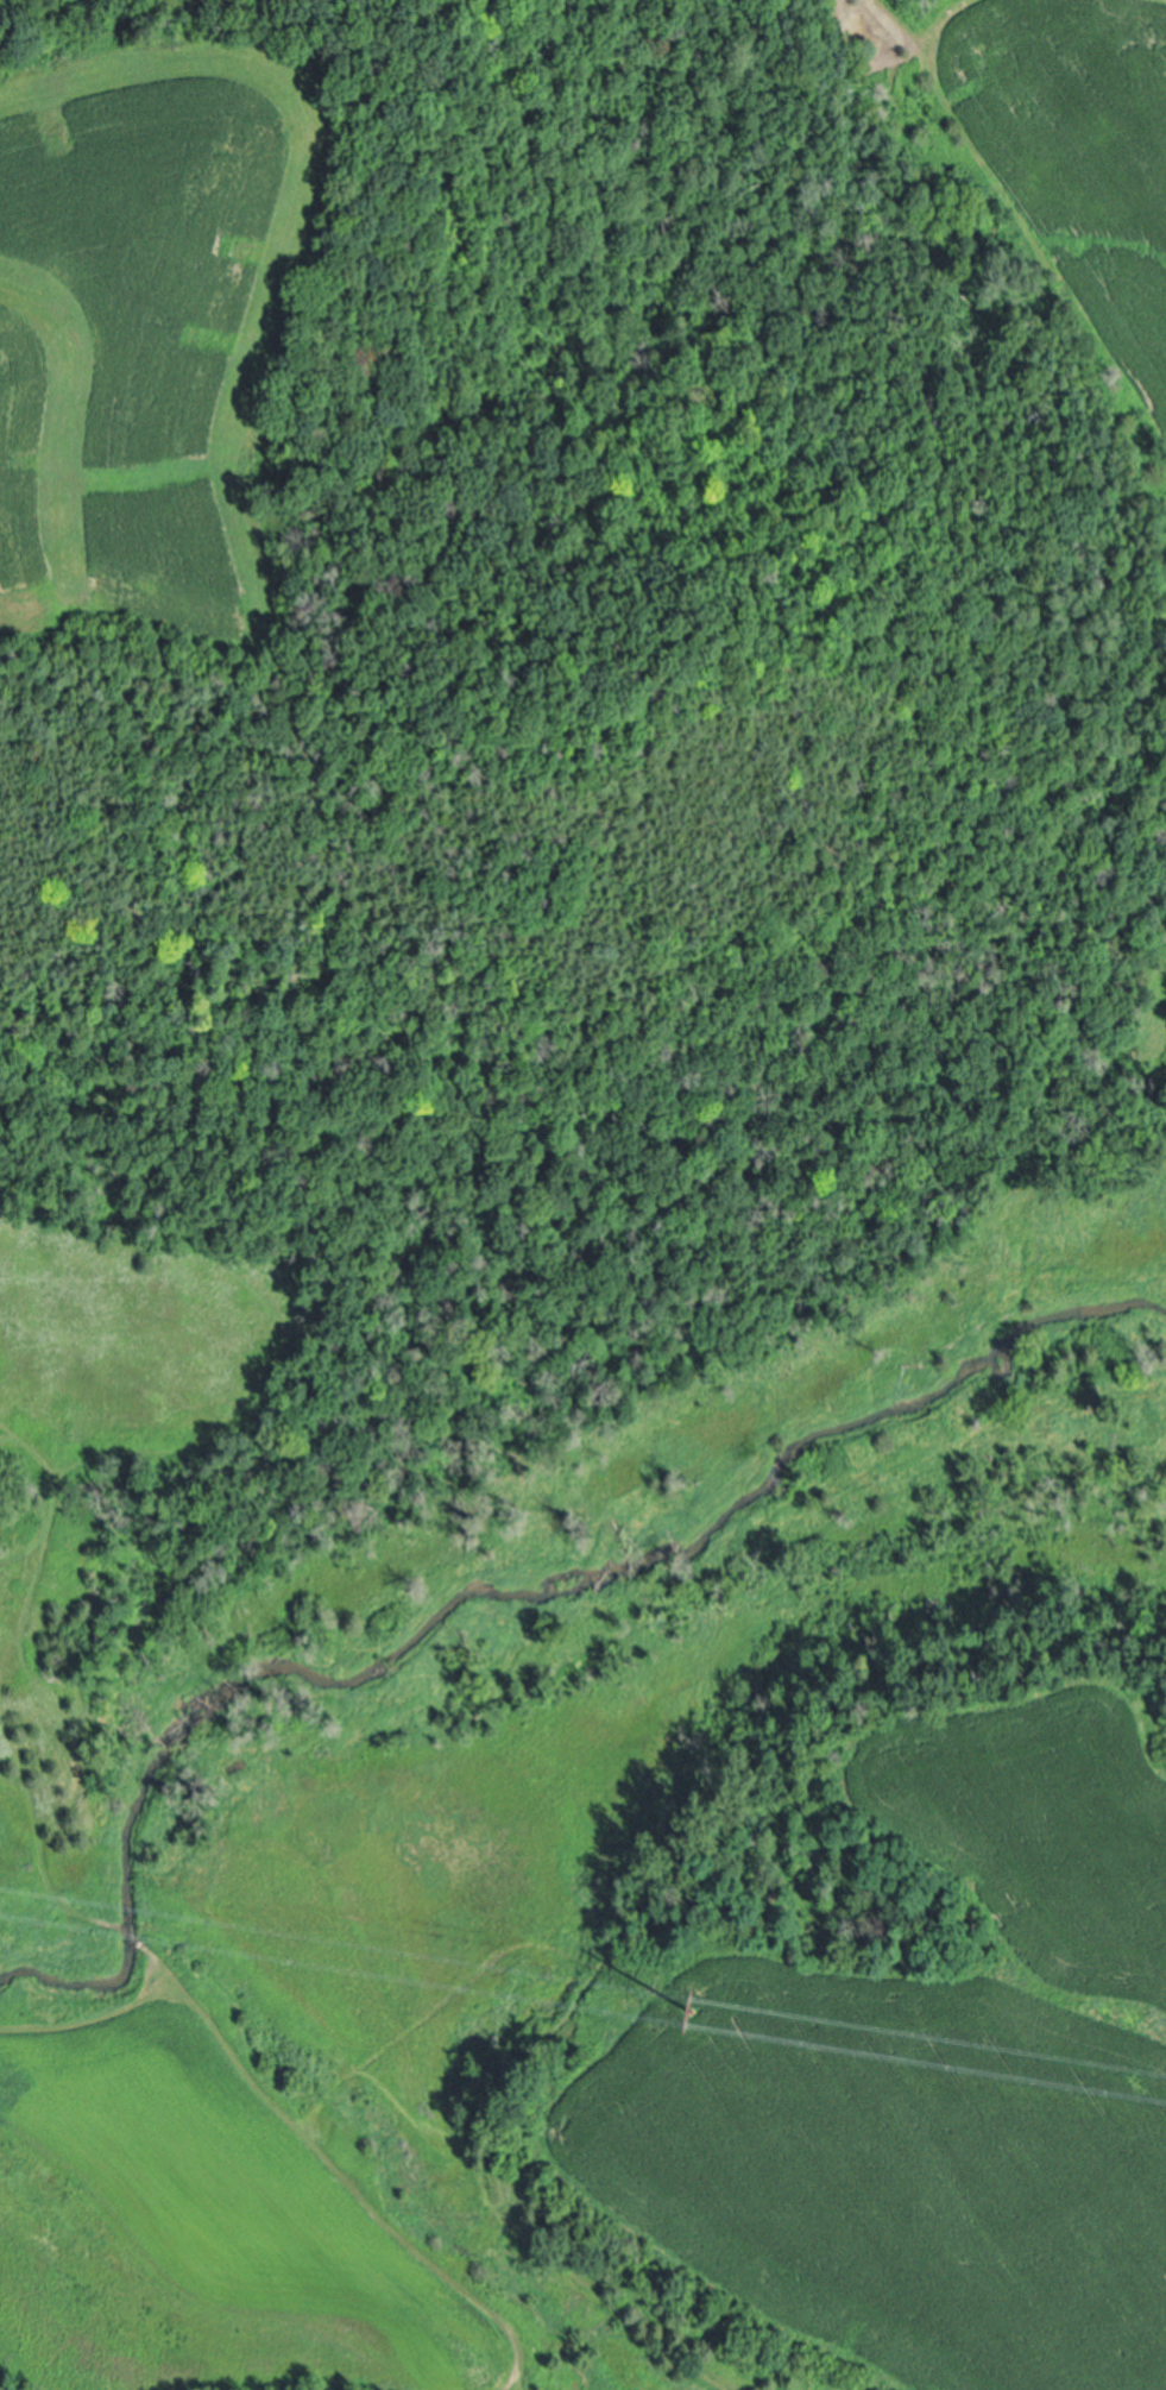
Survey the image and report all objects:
power tower: (692, 2004)

